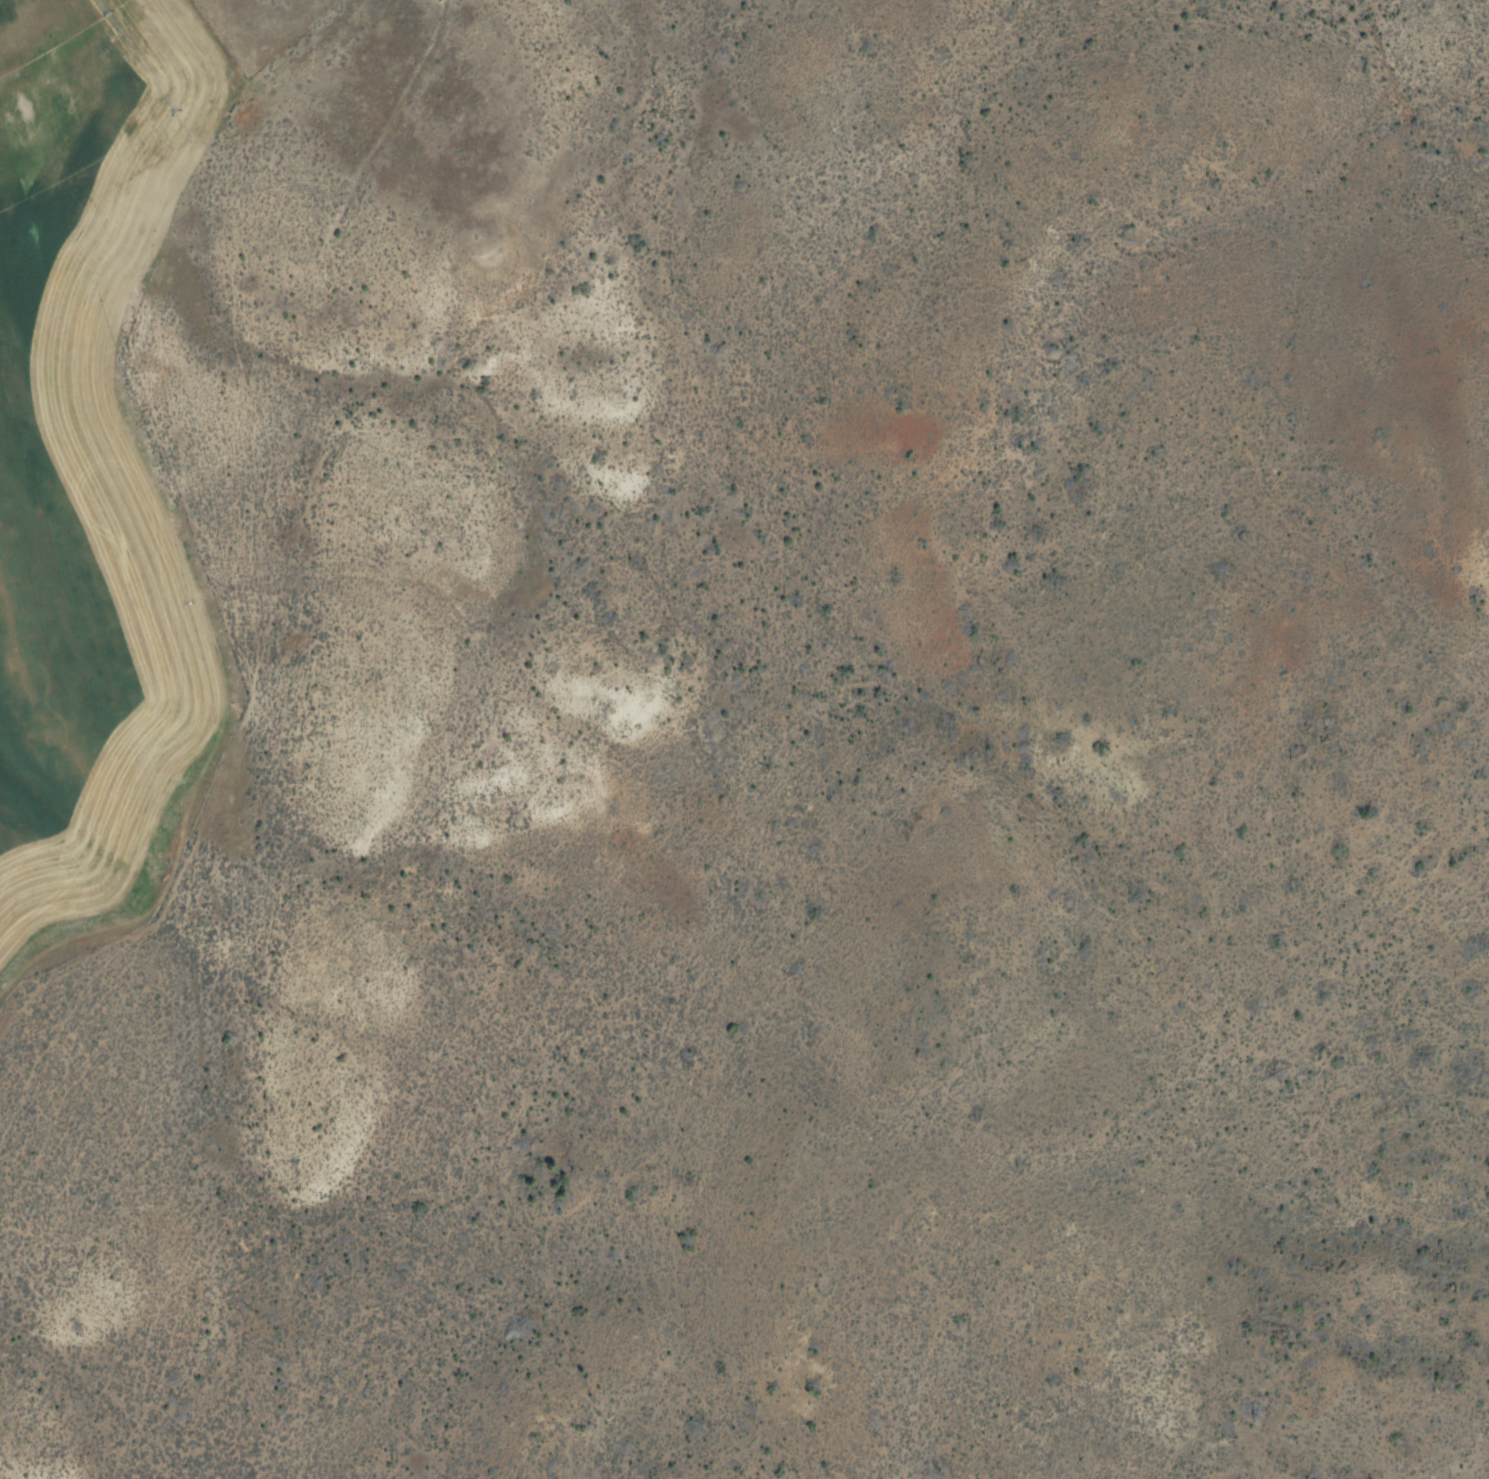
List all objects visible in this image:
crop: (95, 447)

